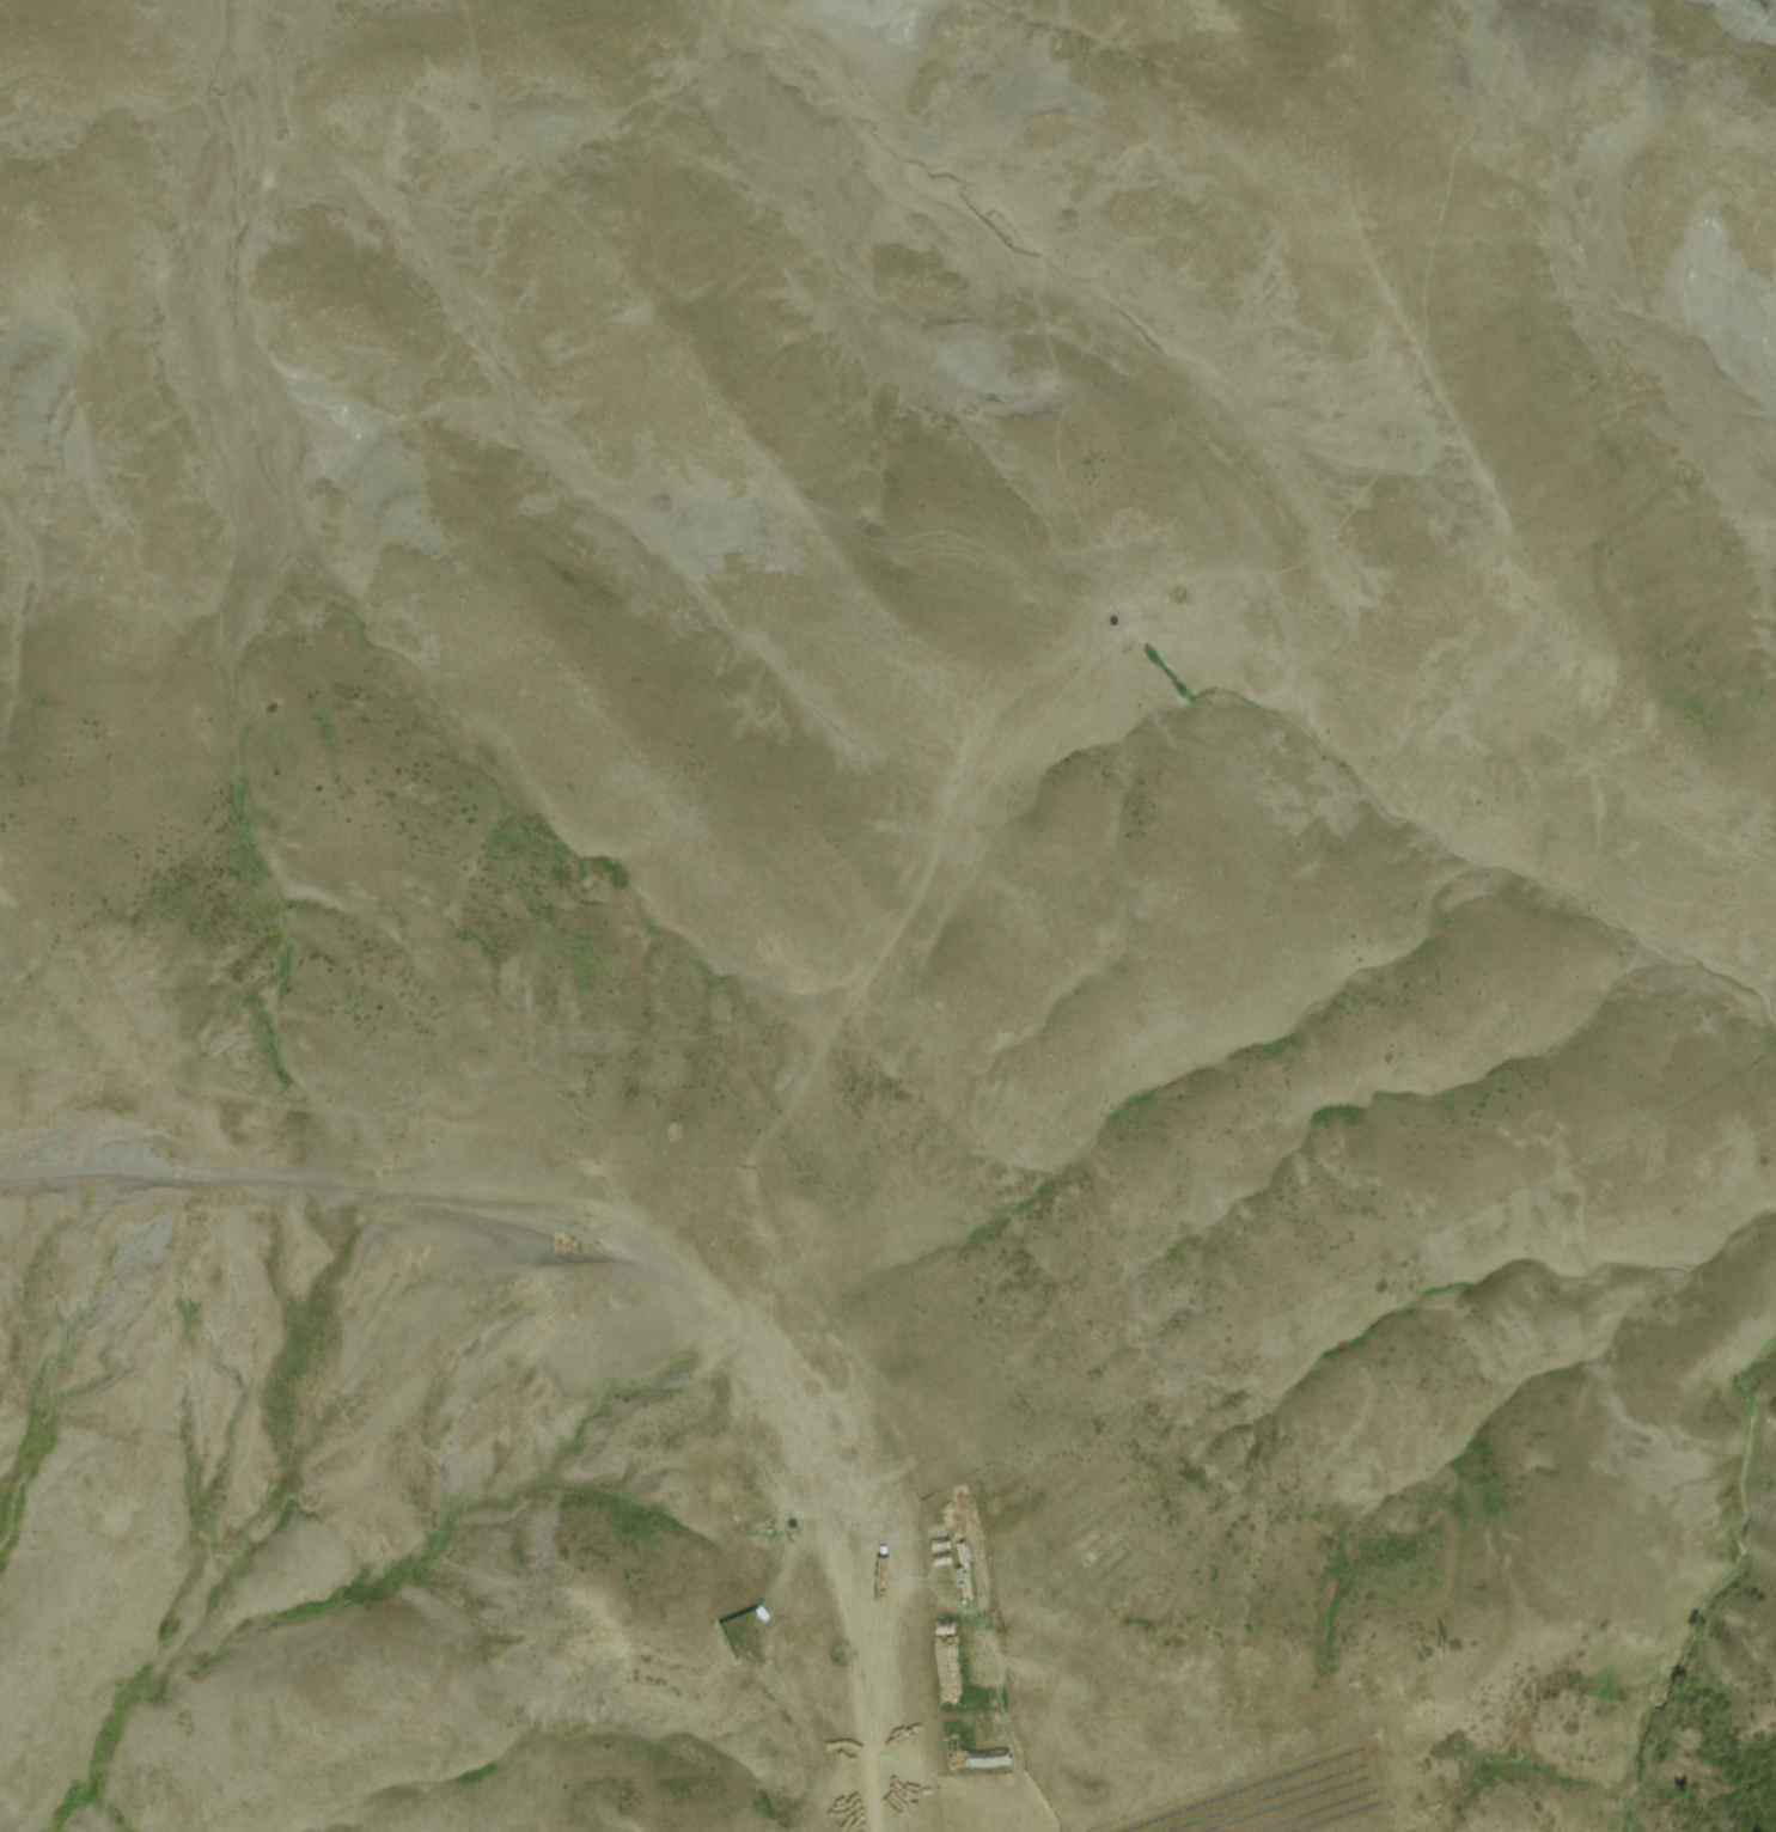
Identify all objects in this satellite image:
power tower: (1436, 1650)

